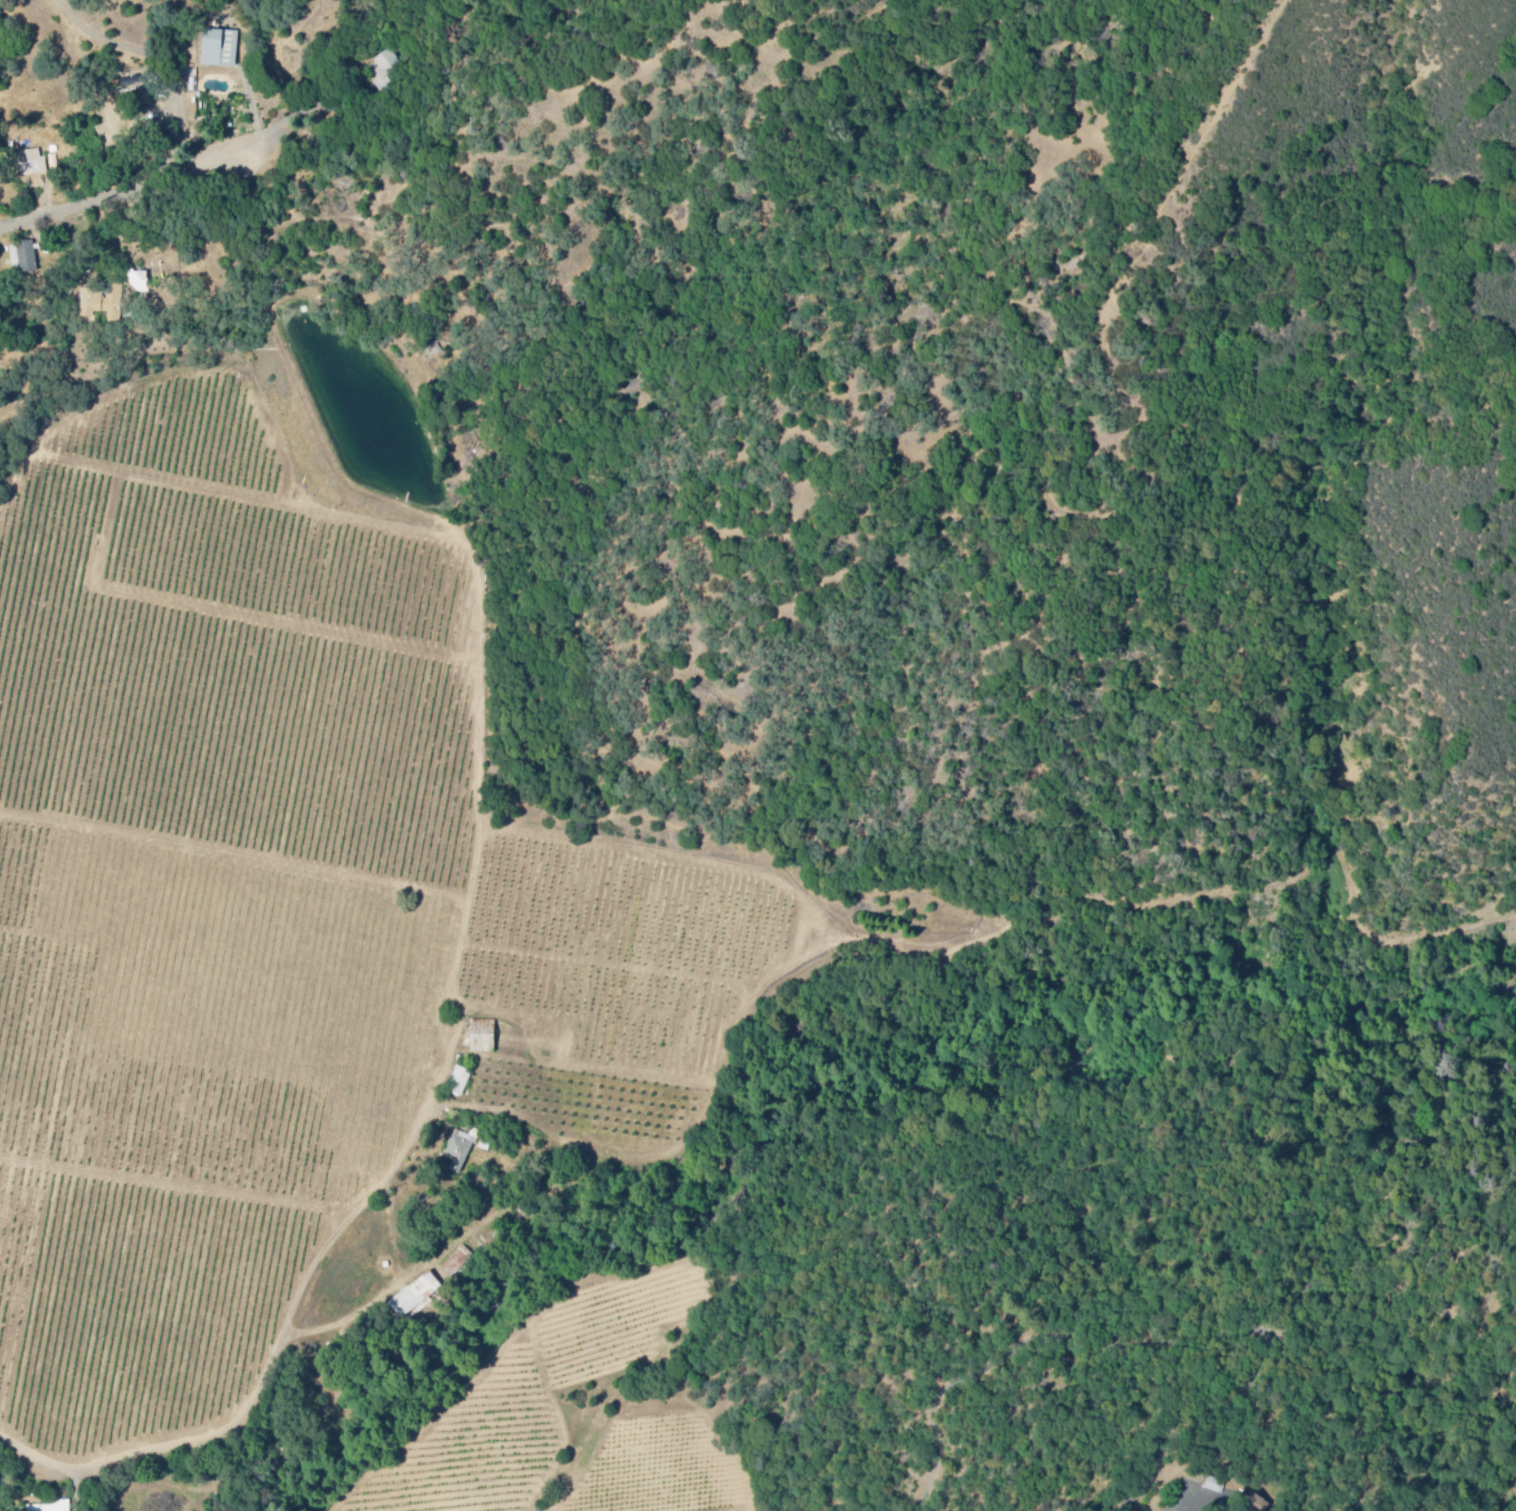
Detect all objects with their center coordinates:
building: (221, 50)
road: (153, 68)
building: (386, 71)
building: (33, 164)
road: (132, 197)
building: (25, 258)
building: (0, 279)
building: (140, 283)
building: (484, 1037)
building: (460, 1083)
building: (459, 1153)
building: (458, 1263)
building: (417, 1297)
road: (270, 1375)
building: (1215, 1487)

